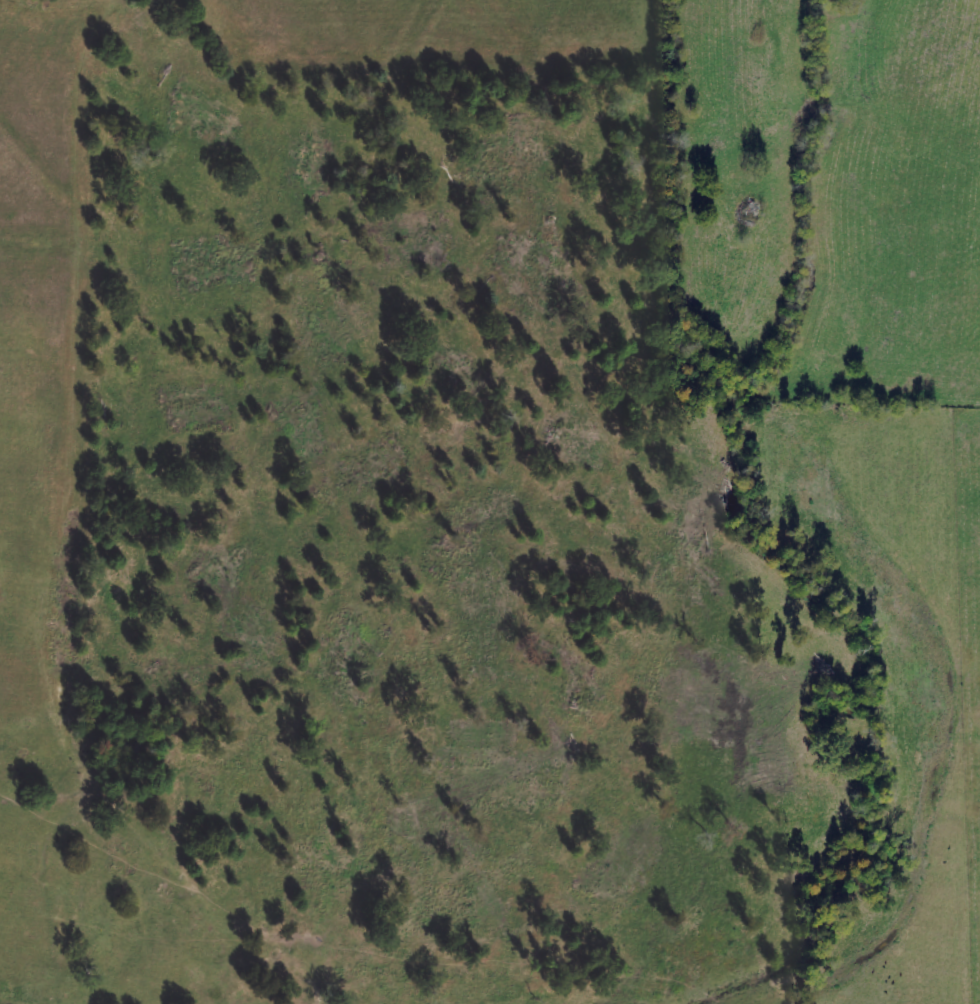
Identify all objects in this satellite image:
road: (98, 901)

